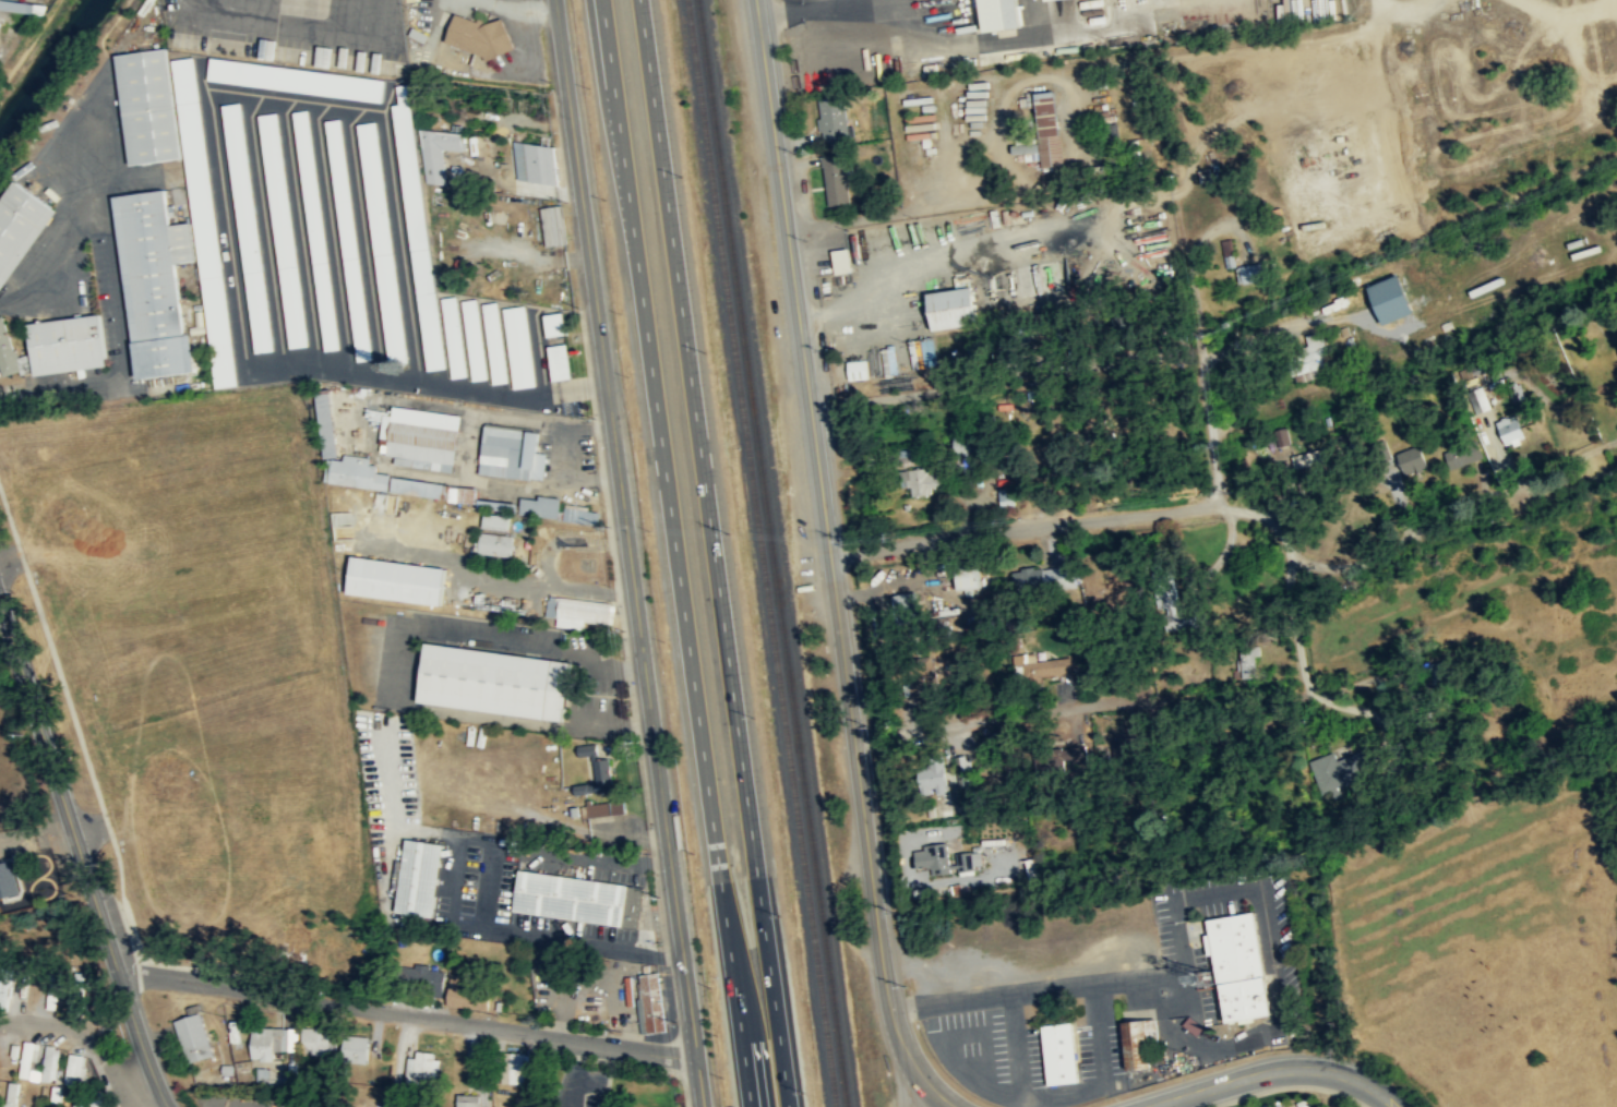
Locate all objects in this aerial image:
building: (23, 4)
road: (523, 8)
building: (1002, 13)
road: (301, 20)
building: (0, 28)
building: (478, 35)
road: (1223, 49)
building: (295, 80)
road: (268, 94)
quarry: (1483, 100)
building: (147, 105)
building: (834, 118)
building: (1050, 128)
building: (1028, 149)
building: (440, 154)
building: (536, 161)
building: (837, 179)
road: (1410, 216)
building: (204, 219)
building: (20, 225)
building: (554, 225)
road: (265, 227)
building: (247, 228)
building: (417, 229)
building: (282, 230)
road: (300, 230)
building: (315, 230)
road: (333, 234)
road: (363, 239)
building: (348, 240)
building: (381, 241)
building: (840, 260)
building: (1250, 273)
building: (153, 280)
building: (1394, 298)
building: (954, 308)
building: (553, 325)
building: (454, 337)
building: (475, 342)
building: (494, 342)
building: (65, 345)
building: (518, 346)
building: (7, 352)
building: (1322, 356)
building: (559, 362)
building: (858, 369)
road: (543, 381)
building: (328, 421)
building: (1512, 430)
building: (419, 437)
building: (1282, 438)
road: (469, 449)
building: (511, 454)
building: (1462, 454)
building: (1310, 458)
building: (1414, 459)
building: (925, 481)
building: (417, 486)
building: (464, 494)
building: (1007, 497)
building: (526, 506)
building: (582, 515)
building: (495, 521)
road: (1021, 528)
building: (493, 542)
road: (628, 553)
road: (675, 553)
road: (714, 553)
railway: (762, 553)
railway: (774, 553)
road: (831, 563)
building: (1045, 576)
building: (969, 577)
building: (395, 580)
road: (547, 582)
building: (906, 606)
building: (585, 610)
building: (1185, 614)
building: (1249, 660)
building: (1041, 665)
building: (1448, 672)
road: (403, 673)
building: (494, 679)
road: (871, 737)
building: (1079, 754)
building: (966, 769)
building: (594, 770)
building: (1341, 770)
building: (938, 775)
building: (601, 808)
road: (81, 856)
building: (934, 858)
building: (969, 859)
building: (419, 877)
building: (8, 879)
building: (578, 898)
road: (1265, 910)
building: (1236, 967)
building: (422, 980)
building: (4, 985)
road: (1187, 986)
building: (51, 990)
building: (468, 991)
road: (1038, 991)
road: (1011, 999)
building: (652, 1001)
road: (407, 1018)
building: (1193, 1026)
road: (1164, 1030)
road: (985, 1035)
road: (1098, 1035)
building: (194, 1037)
building: (272, 1042)
building: (321, 1042)
building: (1140, 1044)
building: (357, 1049)
road: (1017, 1051)
building: (1058, 1054)
building: (28, 1058)
building: (49, 1062)
building: (515, 1068)
road: (1274, 1069)
building: (75, 1070)
building: (422, 1070)
building: (11, 1094)
building: (56, 1094)
road: (1008, 1095)
building: (467, 1100)
building: (101, 1104)
road: (1165, 1105)

